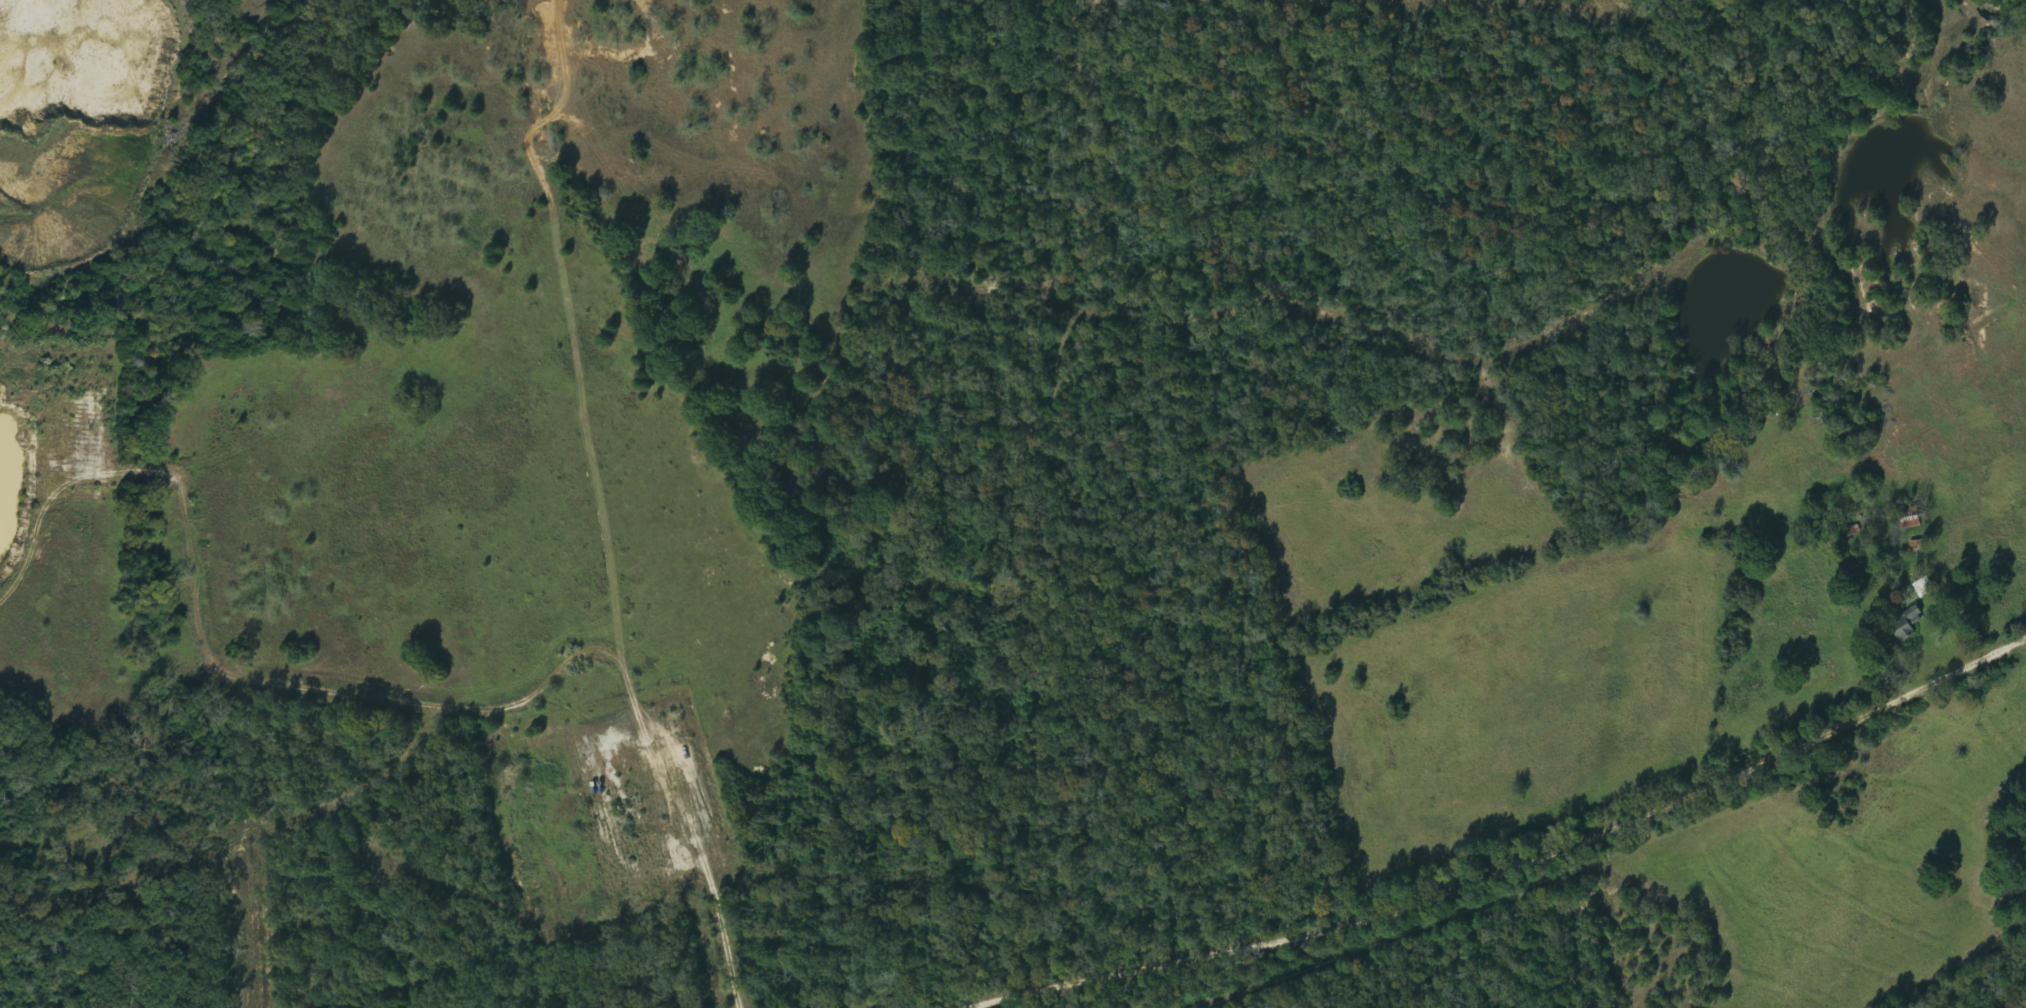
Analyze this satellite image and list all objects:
building: (1906, 625)
road: (1552, 854)

